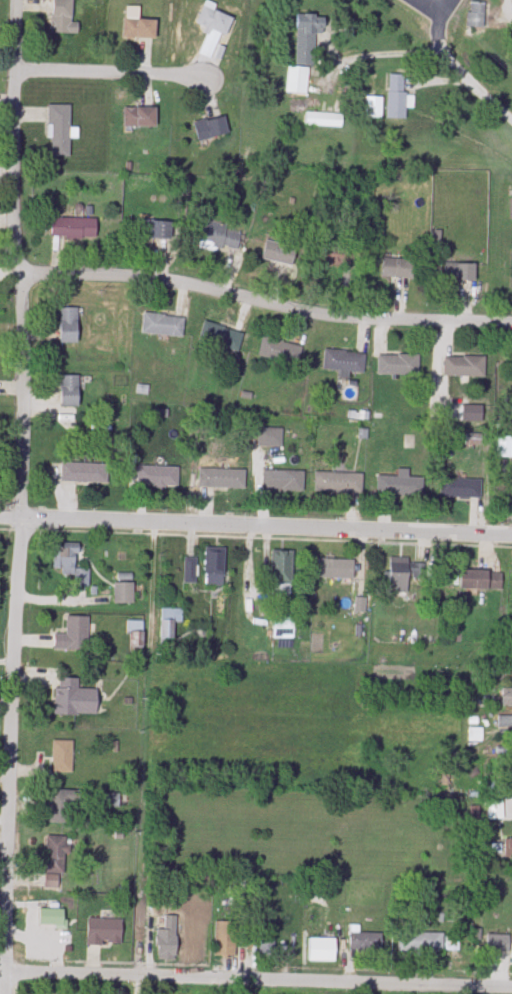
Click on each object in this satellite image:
road: (433, 7)
building: (475, 15)
building: (63, 17)
building: (137, 25)
building: (213, 30)
building: (303, 53)
road: (457, 65)
road: (112, 81)
building: (396, 97)
building: (373, 107)
building: (139, 117)
building: (211, 128)
building: (59, 131)
building: (73, 228)
building: (156, 229)
building: (219, 237)
building: (279, 253)
building: (336, 257)
road: (20, 261)
building: (398, 268)
building: (459, 272)
road: (267, 310)
building: (68, 325)
building: (162, 325)
building: (220, 336)
building: (279, 350)
building: (343, 362)
building: (397, 365)
building: (464, 367)
building: (69, 391)
building: (269, 438)
building: (503, 447)
building: (83, 474)
building: (157, 477)
building: (221, 479)
building: (282, 481)
building: (338, 483)
building: (399, 485)
building: (460, 488)
road: (256, 530)
building: (69, 565)
building: (214, 567)
building: (335, 569)
building: (189, 571)
building: (280, 573)
building: (402, 575)
building: (480, 580)
building: (123, 593)
building: (168, 625)
building: (282, 628)
building: (73, 635)
building: (506, 698)
building: (72, 699)
building: (475, 735)
building: (61, 757)
road: (12, 758)
building: (494, 789)
building: (108, 799)
building: (61, 806)
building: (495, 810)
building: (510, 846)
building: (55, 856)
building: (103, 932)
building: (225, 939)
building: (167, 940)
building: (363, 941)
building: (420, 942)
building: (321, 950)
road: (2, 982)
road: (215, 988)

